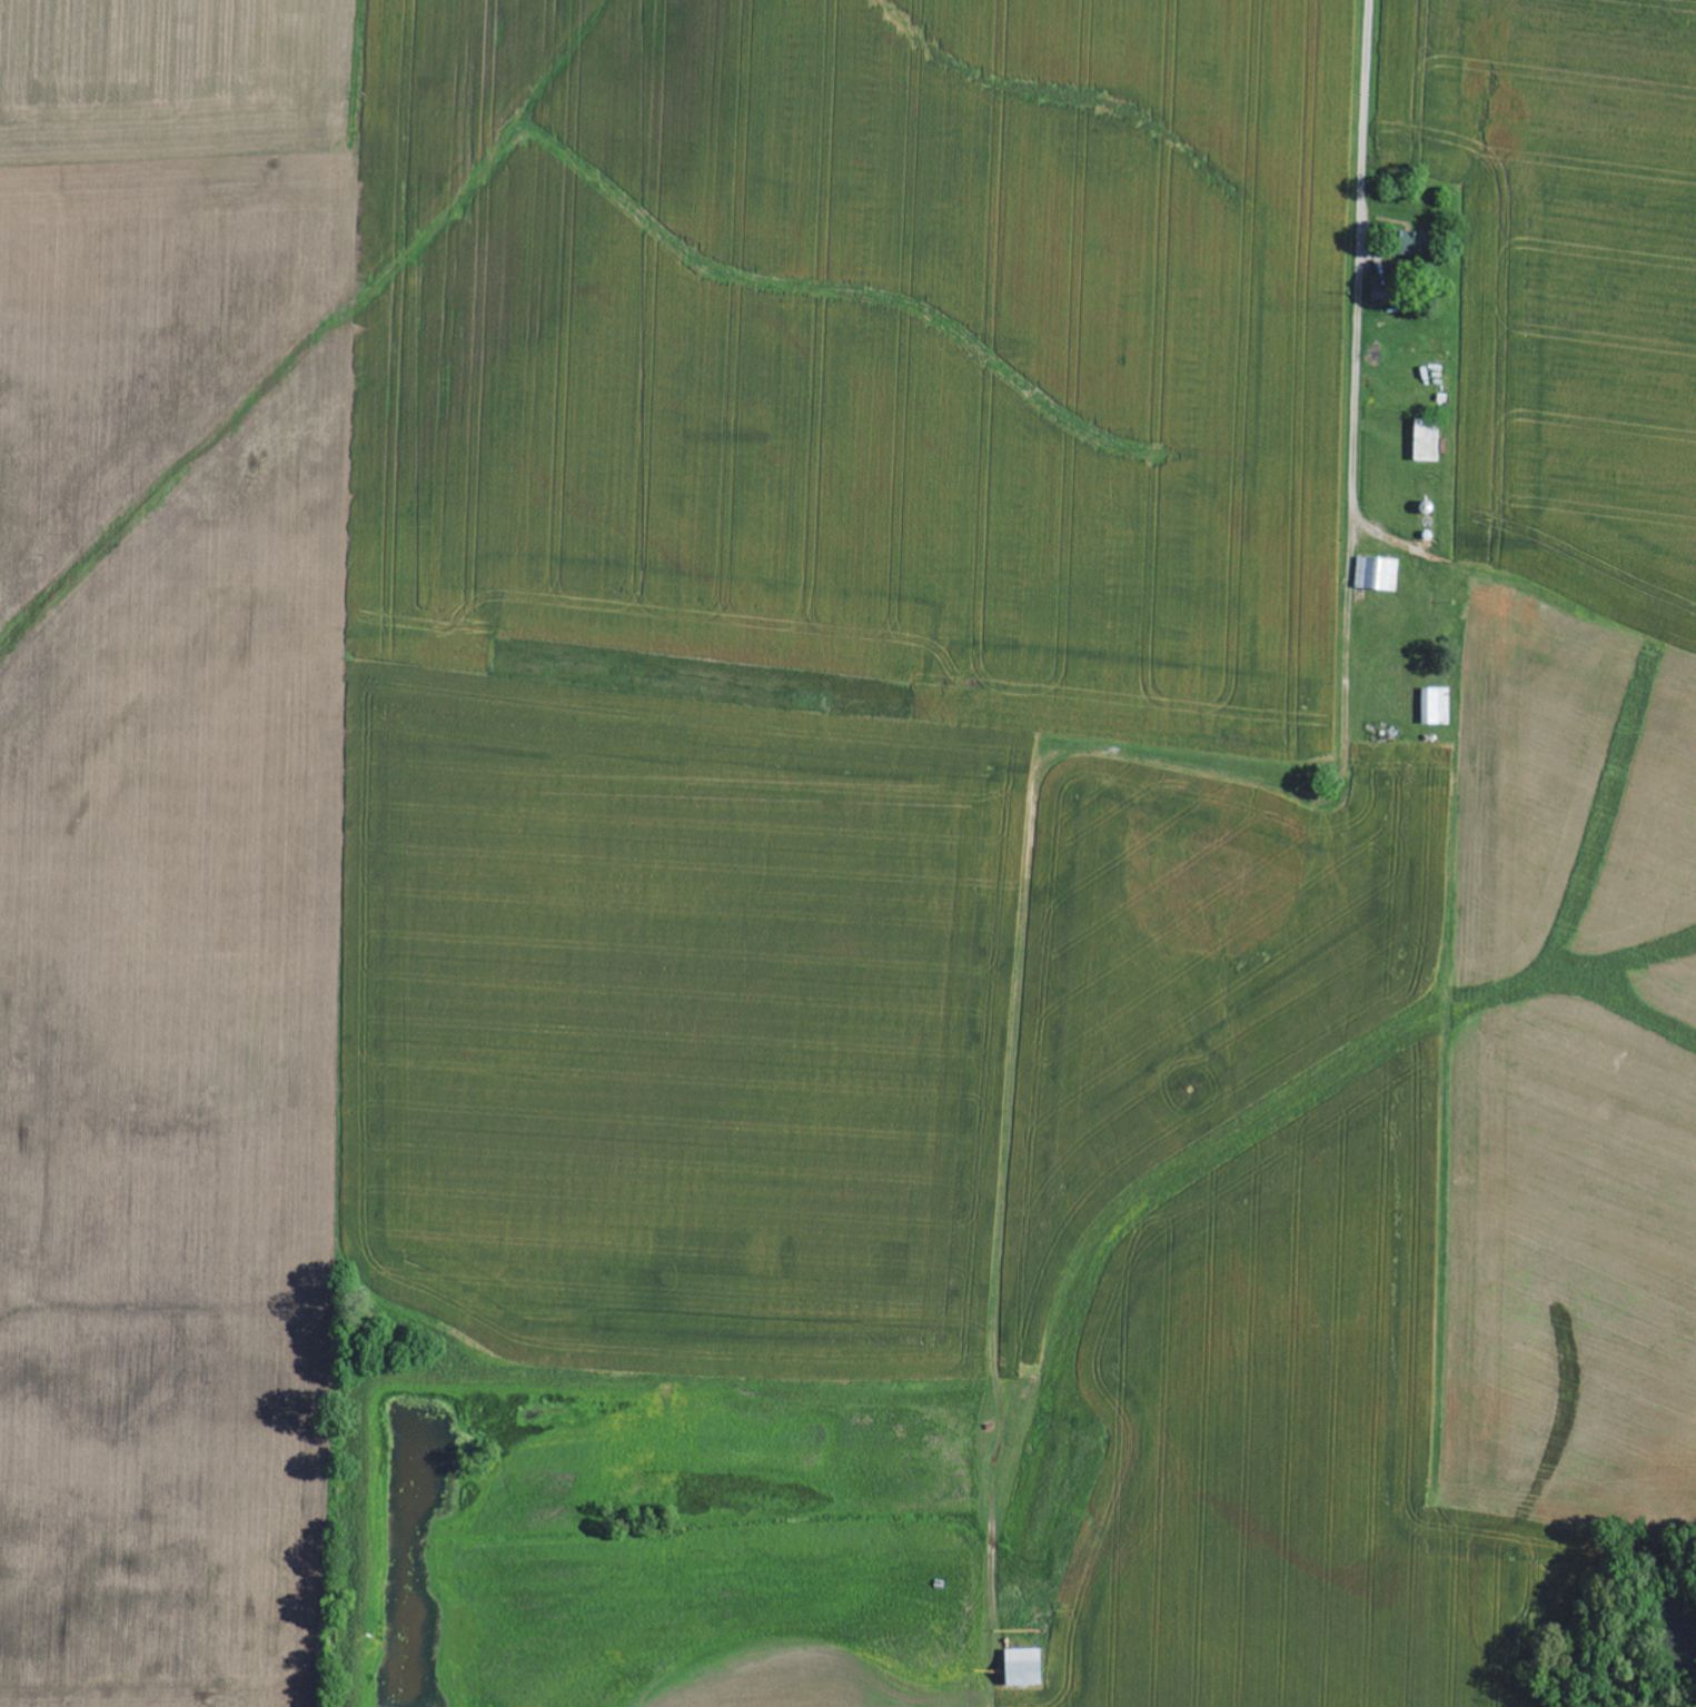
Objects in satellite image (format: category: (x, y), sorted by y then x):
building: (1406, 242)
building: (1424, 443)
building: (1373, 573)
road: (1510, 574)
building: (1434, 706)
road: (1293, 860)
road: (994, 1078)

